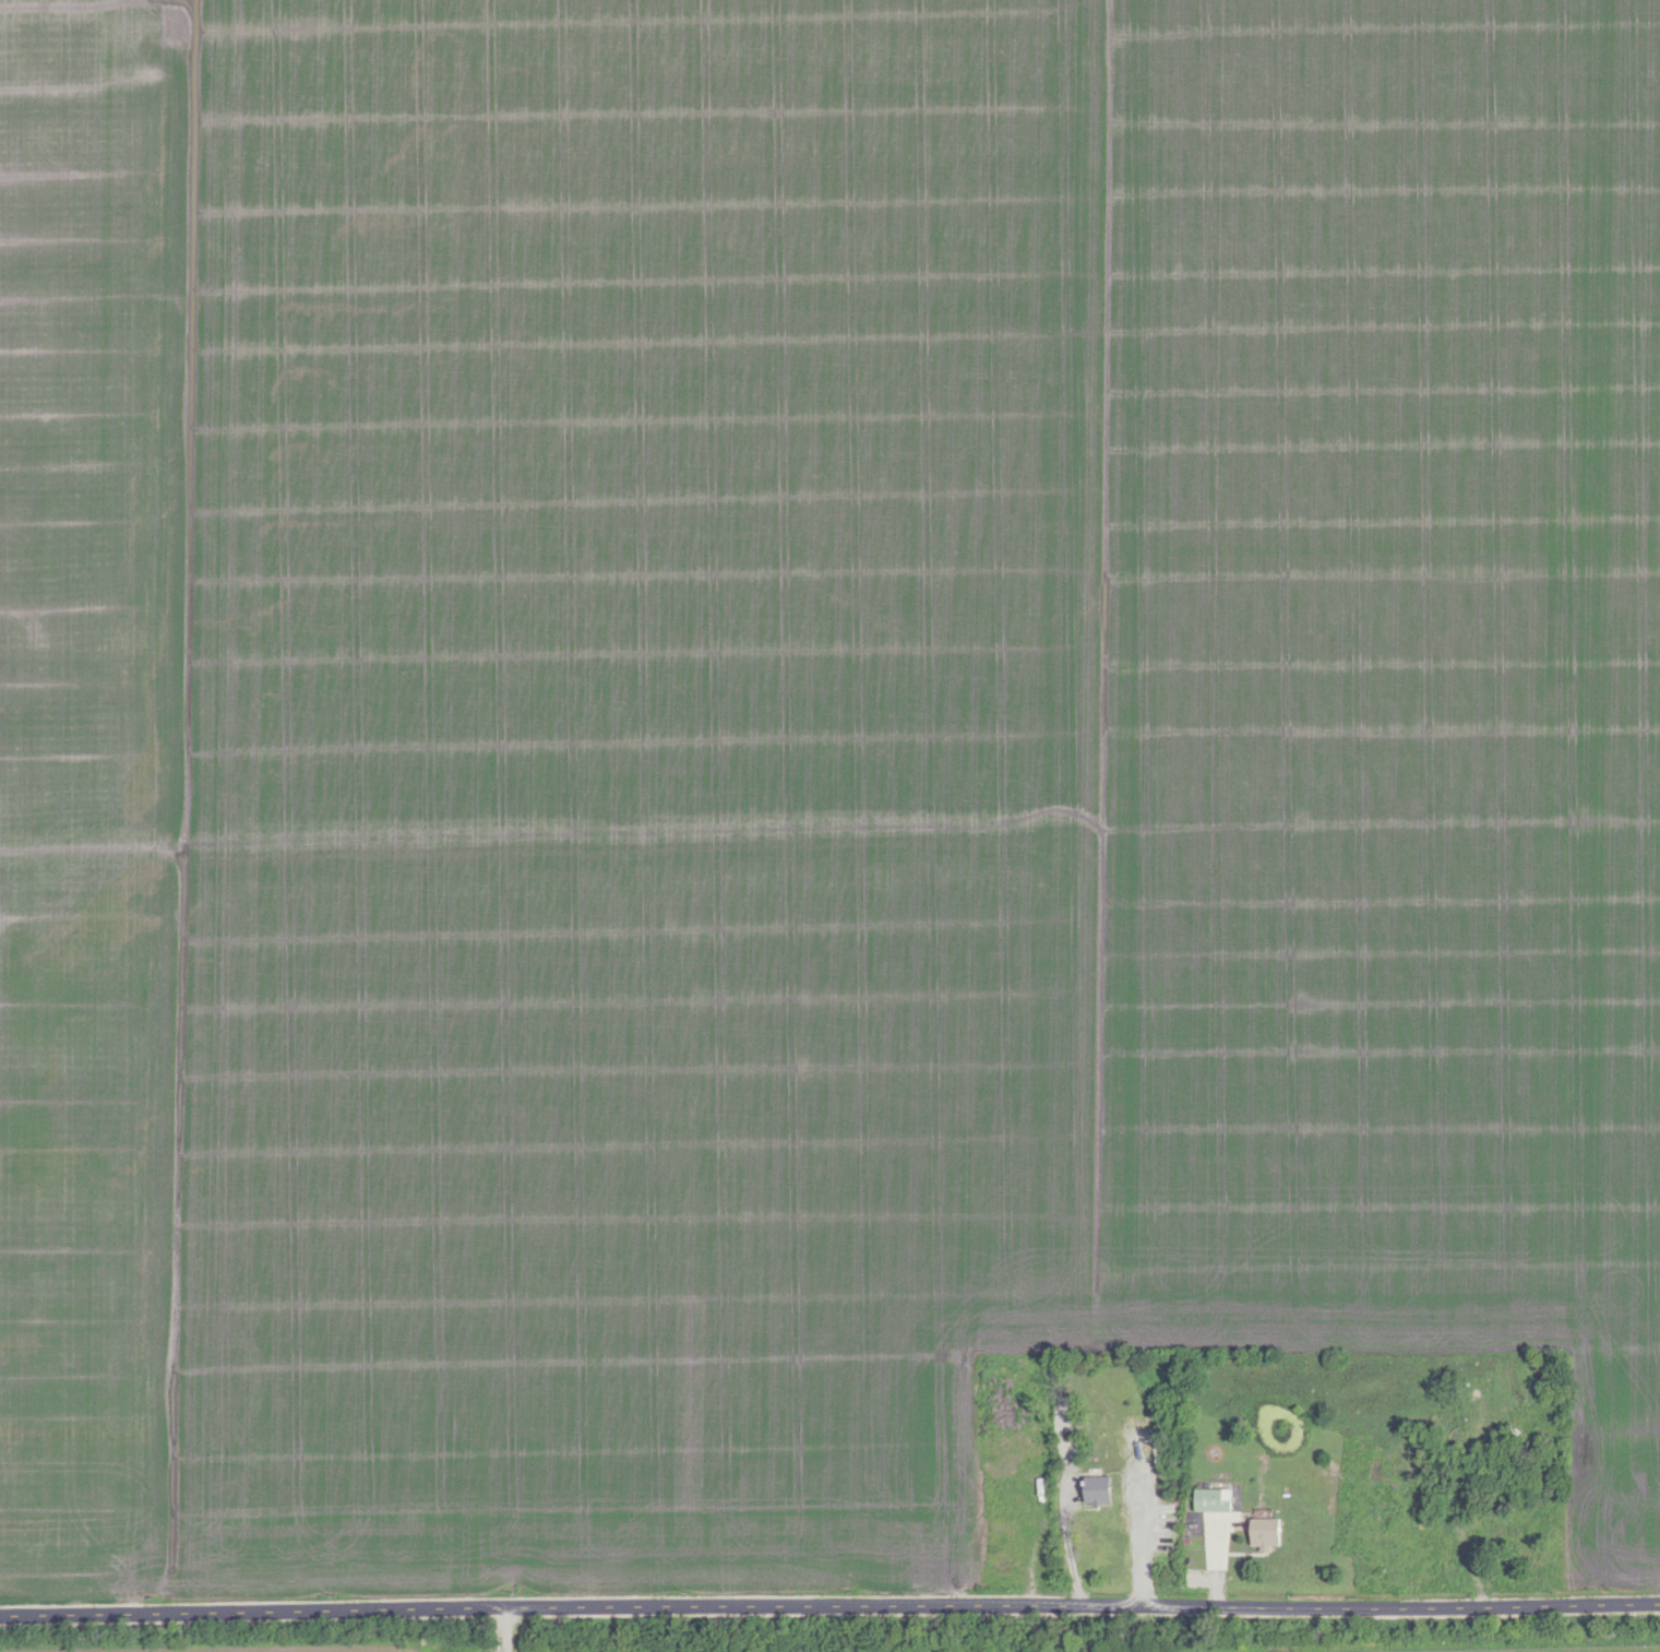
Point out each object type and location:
building: (1097, 1488)
building: (1211, 1498)
road: (1456, 1505)
road: (1139, 1532)
building: (1264, 1532)
road: (1070, 1550)
road: (829, 1605)
road: (507, 1628)

